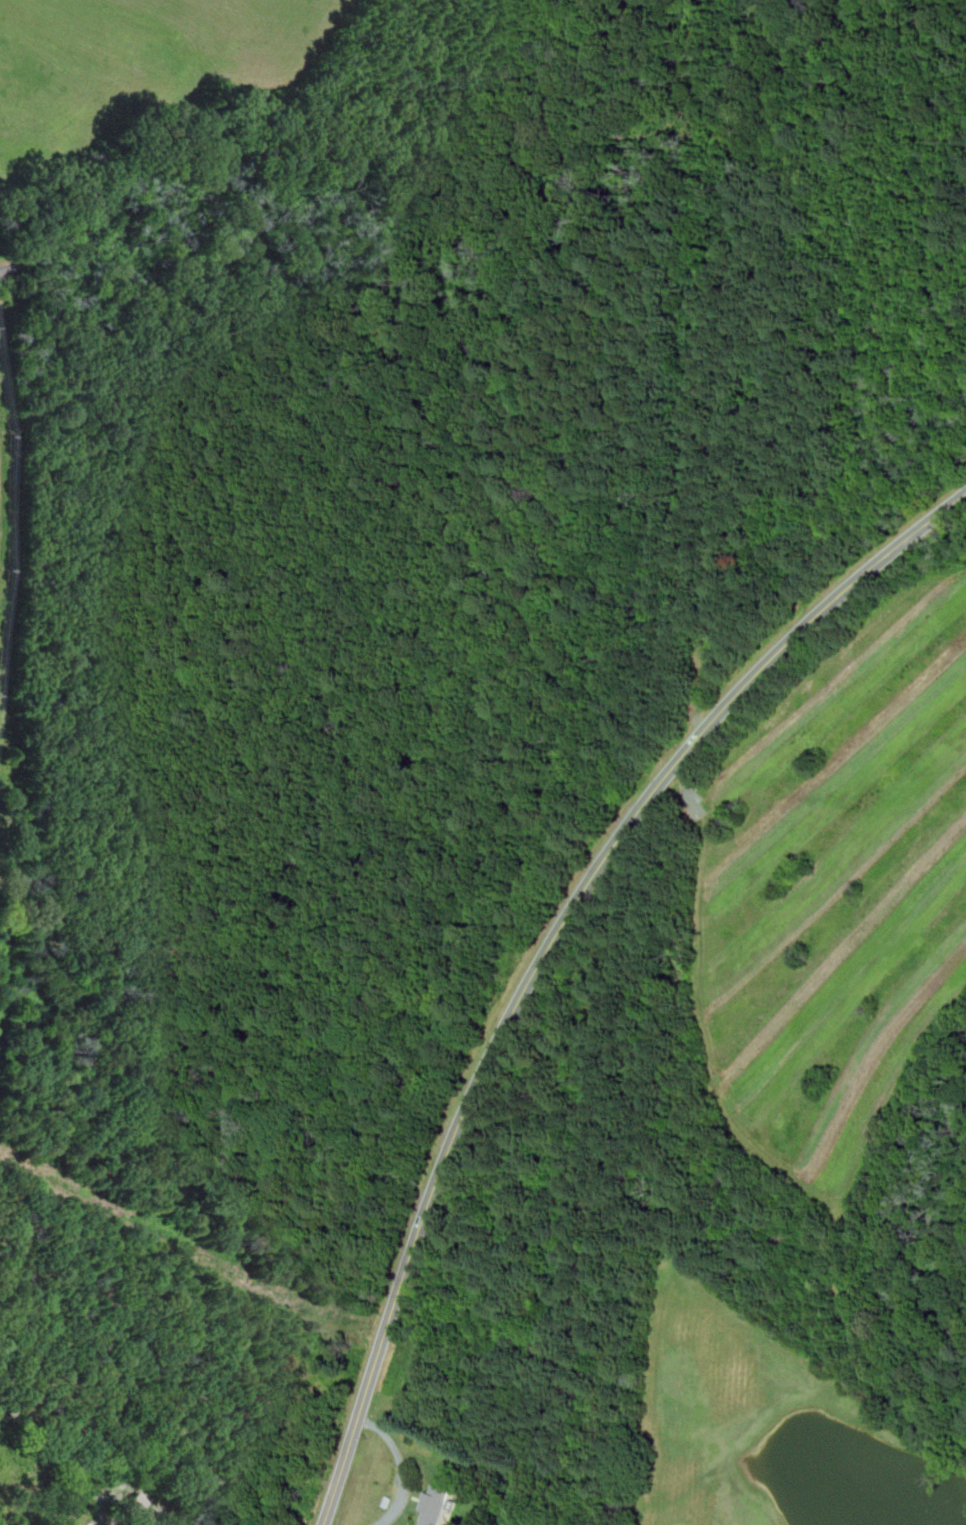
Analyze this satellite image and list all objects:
road: (688, 790)
road: (548, 947)
road: (400, 1465)
building: (436, 1504)
building: (137, 1507)

